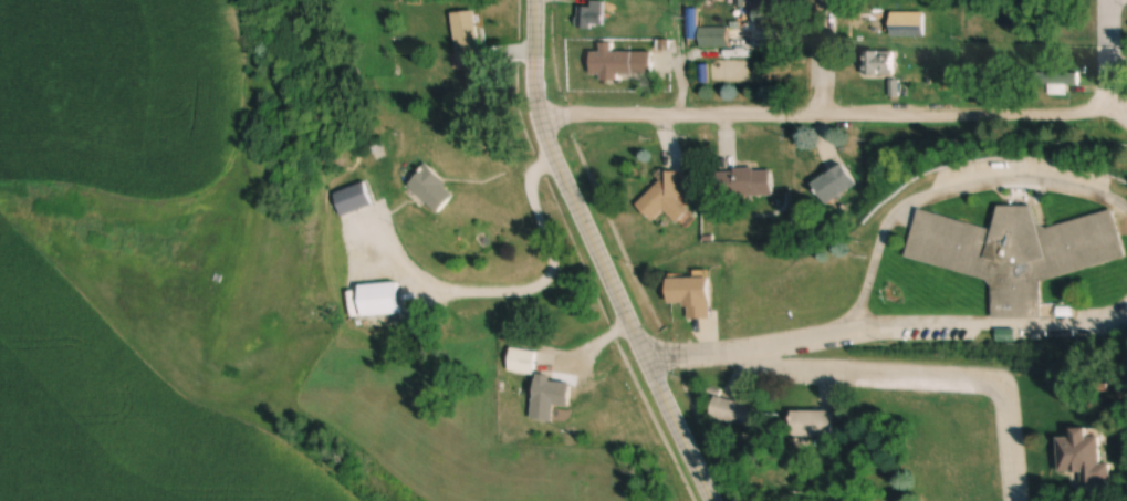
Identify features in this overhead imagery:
building: (592, 15)
building: (714, 36)
building: (468, 40)
road: (1114, 52)
road: (676, 56)
road: (822, 56)
road: (535, 58)
building: (620, 63)
building: (878, 64)
building: (1061, 82)
road: (825, 114)
building: (745, 182)
building: (836, 184)
building: (432, 189)
building: (666, 198)
building: (1016, 252)
road: (512, 286)
road: (866, 286)
building: (692, 294)
building: (380, 299)
road: (624, 310)
road: (748, 348)
building: (523, 361)
road: (931, 377)
building: (553, 393)
building: (732, 411)
building: (813, 422)
building: (1084, 455)

